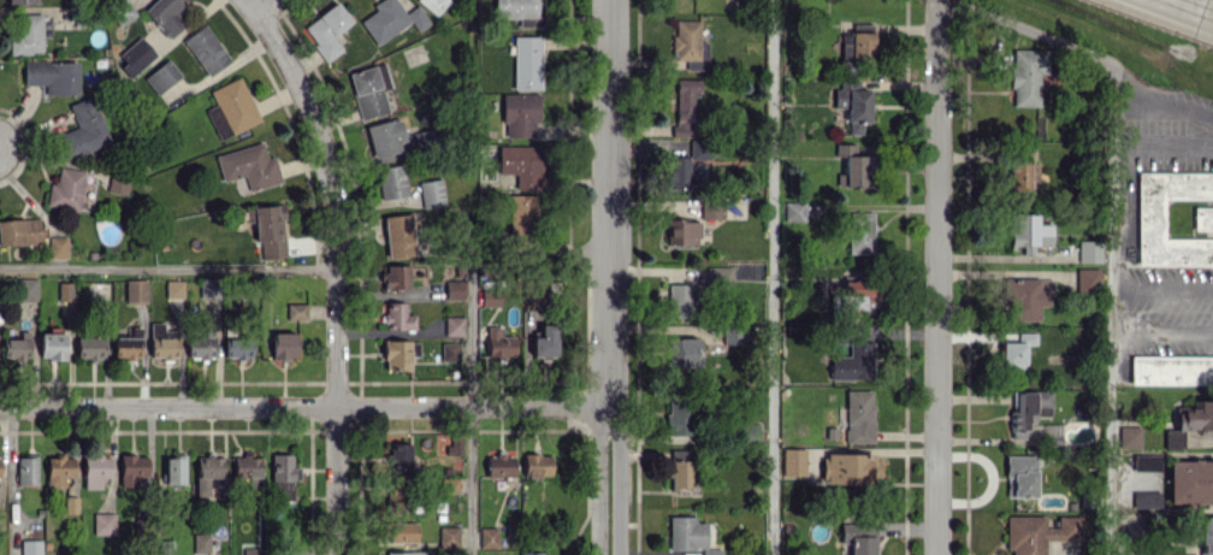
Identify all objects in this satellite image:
building: (22, 1)
road: (1189, 2)
building: (432, 4)
road: (261, 5)
road: (1205, 8)
building: (124, 11)
building: (520, 11)
building: (165, 14)
building: (391, 19)
building: (327, 30)
road: (1026, 30)
building: (29, 34)
building: (688, 45)
building: (845, 45)
building: (862, 45)
building: (206, 49)
building: (136, 57)
building: (526, 61)
building: (1028, 75)
building: (53, 76)
building: (161, 76)
building: (368, 91)
road: (1156, 96)
building: (684, 104)
building: (231, 108)
building: (519, 114)
building: (83, 129)
building: (385, 136)
building: (424, 137)
road: (1160, 148)
building: (686, 161)
building: (521, 164)
building: (249, 166)
building: (854, 166)
building: (1024, 172)
building: (392, 181)
building: (118, 183)
building: (66, 189)
road: (330, 193)
building: (431, 193)
road: (609, 202)
building: (712, 209)
building: (794, 211)
building: (522, 214)
building: (1150, 218)
building: (1202, 218)
building: (268, 229)
building: (1029, 230)
building: (20, 231)
building: (682, 231)
building: (860, 232)
building: (398, 235)
building: (58, 247)
building: (1089, 250)
road: (167, 268)
road: (1001, 273)
building: (396, 276)
building: (720, 276)
road: (773, 277)
road: (939, 277)
building: (1088, 278)
building: (25, 288)
building: (208, 288)
building: (174, 289)
building: (455, 289)
building: (136, 290)
building: (65, 291)
road: (1160, 291)
building: (491, 297)
building: (1028, 299)
building: (682, 300)
road: (1108, 308)
building: (296, 311)
building: (397, 317)
building: (454, 325)
road: (1160, 333)
building: (730, 335)
road: (469, 340)
building: (162, 341)
building: (545, 341)
building: (498, 343)
building: (128, 344)
building: (284, 344)
building: (52, 346)
building: (200, 346)
building: (17, 347)
building: (89, 347)
building: (237, 347)
building: (1014, 347)
building: (450, 350)
building: (682, 352)
building: (398, 354)
building: (854, 361)
building: (1171, 368)
road: (303, 406)
building: (1028, 409)
building: (859, 415)
building: (681, 418)
road: (603, 419)
road: (613, 419)
building: (1190, 420)
building: (746, 432)
building: (1131, 436)
building: (397, 456)
building: (793, 461)
building: (1146, 462)
building: (499, 465)
building: (537, 465)
building: (0, 466)
building: (248, 467)
building: (850, 467)
building: (132, 468)
building: (174, 468)
building: (26, 470)
building: (59, 470)
building: (95, 470)
building: (207, 472)
building: (681, 473)
building: (283, 474)
building: (1020, 476)
road: (335, 480)
road: (469, 480)
building: (1190, 480)
road: (596, 494)
road: (615, 494)
building: (1146, 498)
building: (70, 503)
building: (103, 522)
building: (402, 531)
building: (1039, 532)
building: (688, 535)
building: (449, 536)
building: (1206, 536)
building: (489, 537)
building: (858, 537)
building: (201, 542)
building: (30, 547)
building: (164, 547)
building: (1135, 550)
building: (252, 551)
building: (297, 551)
building: (404, 553)
building: (531, 553)

